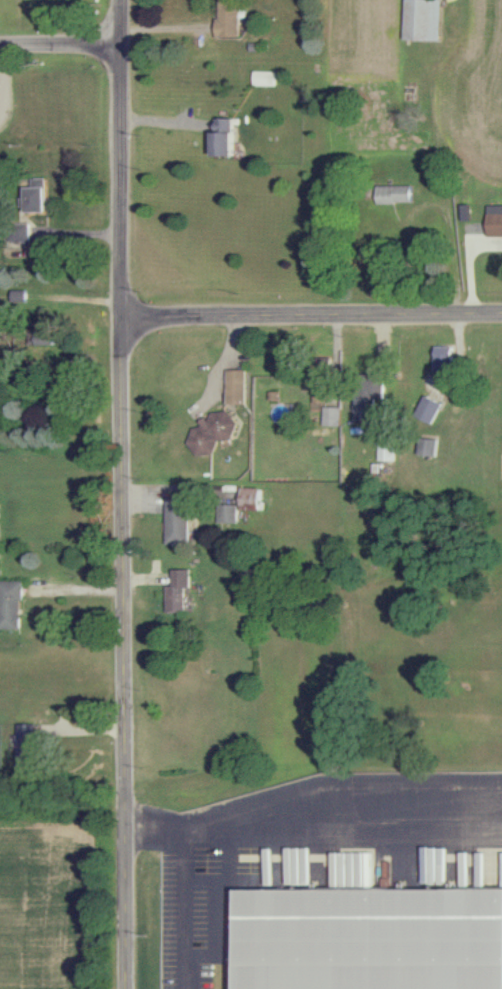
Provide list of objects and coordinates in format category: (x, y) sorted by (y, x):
building: (227, 17)
building: (421, 19)
road: (60, 47)
building: (263, 77)
building: (223, 135)
road: (120, 156)
building: (394, 192)
building: (34, 193)
building: (493, 219)
building: (17, 229)
building: (362, 254)
building: (18, 294)
road: (311, 312)
building: (40, 333)
building: (444, 357)
building: (235, 386)
building: (368, 394)
building: (429, 408)
building: (211, 432)
building: (387, 440)
building: (428, 445)
building: (250, 498)
building: (176, 519)
building: (175, 590)
building: (9, 603)
road: (123, 651)
building: (23, 751)
road: (339, 812)
road: (178, 883)
building: (368, 938)

